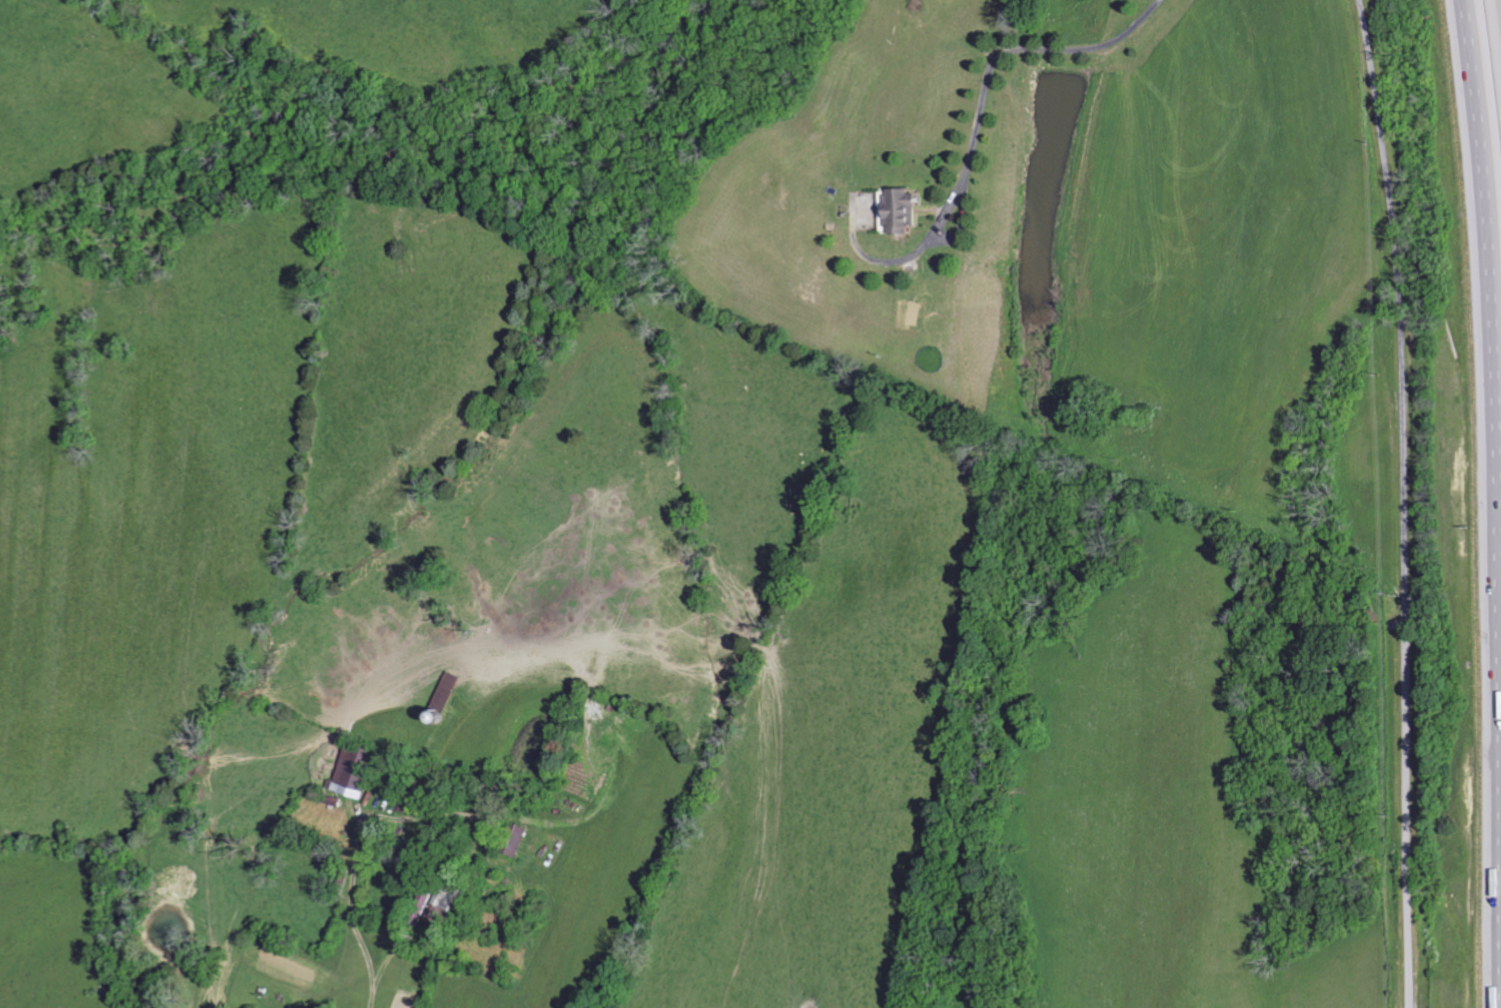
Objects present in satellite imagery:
road: (1473, 30)
building: (902, 210)
road: (1403, 502)
road: (1497, 533)
building: (450, 690)
road: (522, 983)

